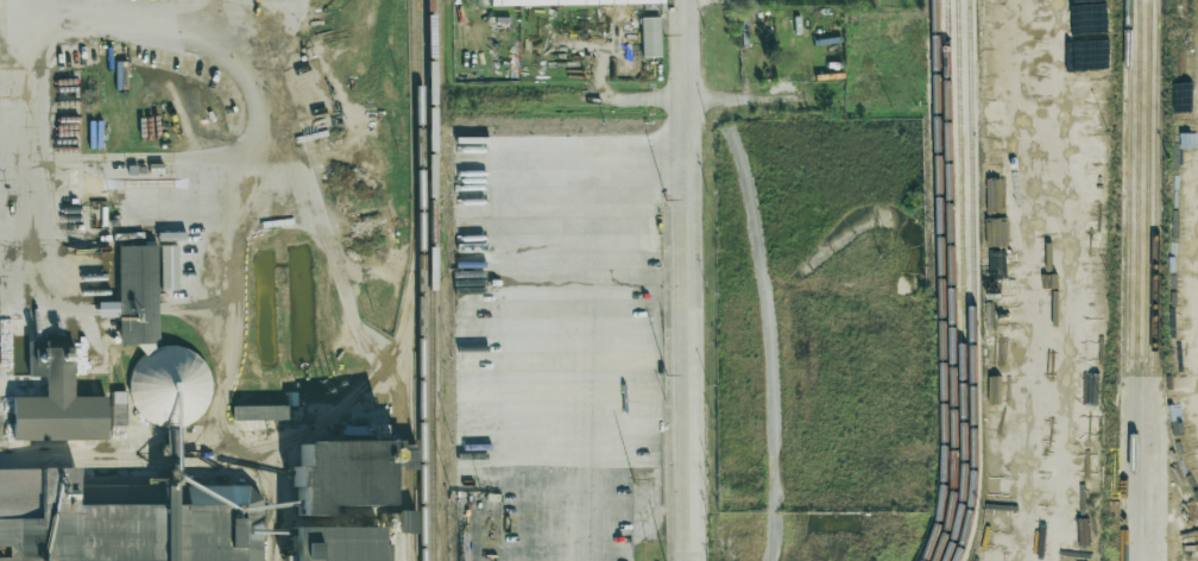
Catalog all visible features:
building: (563, 2)
road: (282, 11)
building: (650, 37)
road: (254, 82)
road: (687, 100)
road: (33, 150)
building: (169, 267)
road: (686, 279)
railway: (1126, 279)
railway: (1153, 279)
railway: (431, 280)
railway: (971, 280)
railway: (1135, 280)
railway: (1145, 280)
railway: (941, 282)
railway: (951, 282)
railway: (961, 282)
road: (584, 310)
road: (770, 340)
building: (155, 347)
railway: (371, 380)
railway: (422, 383)
building: (55, 398)
building: (119, 408)
building: (259, 412)
railway: (408, 415)
railway: (160, 462)
building: (340, 475)
building: (408, 521)
building: (335, 543)
road: (584, 551)

